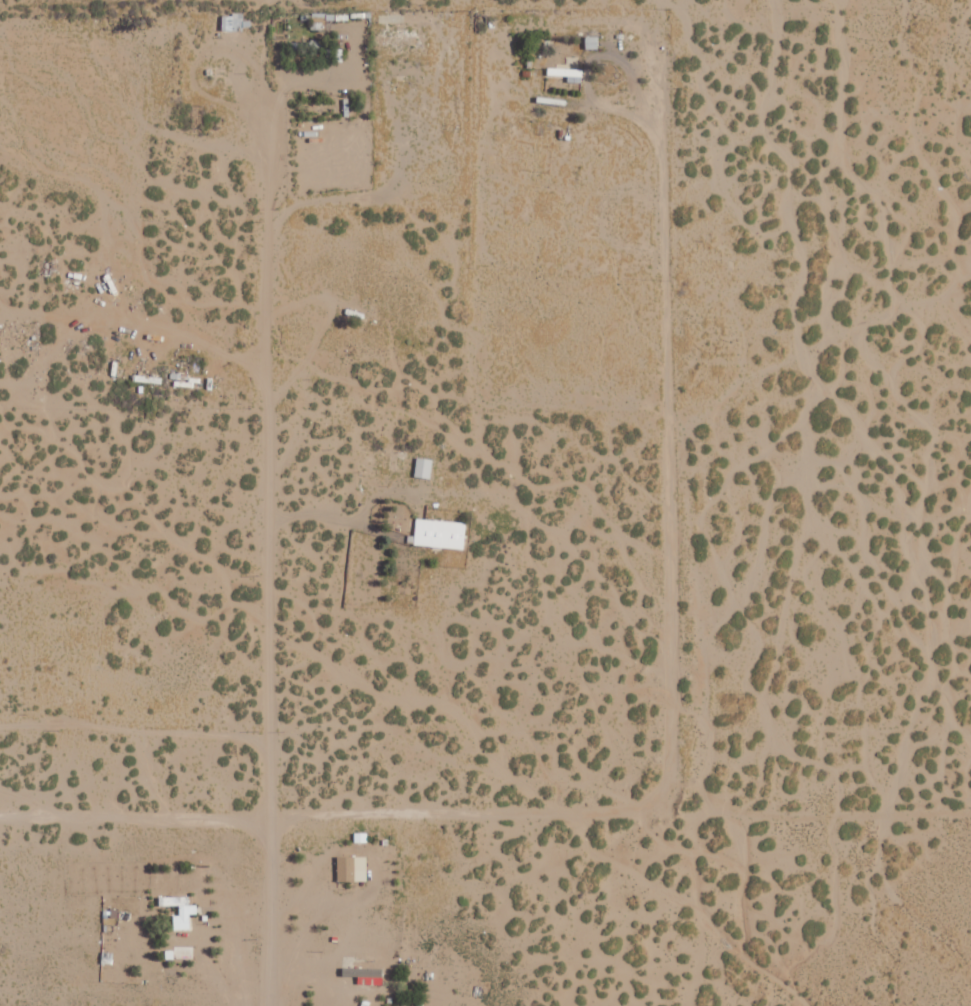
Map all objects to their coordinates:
building: (232, 21)
road: (349, 421)
building: (423, 467)
building: (439, 533)
building: (350, 869)

